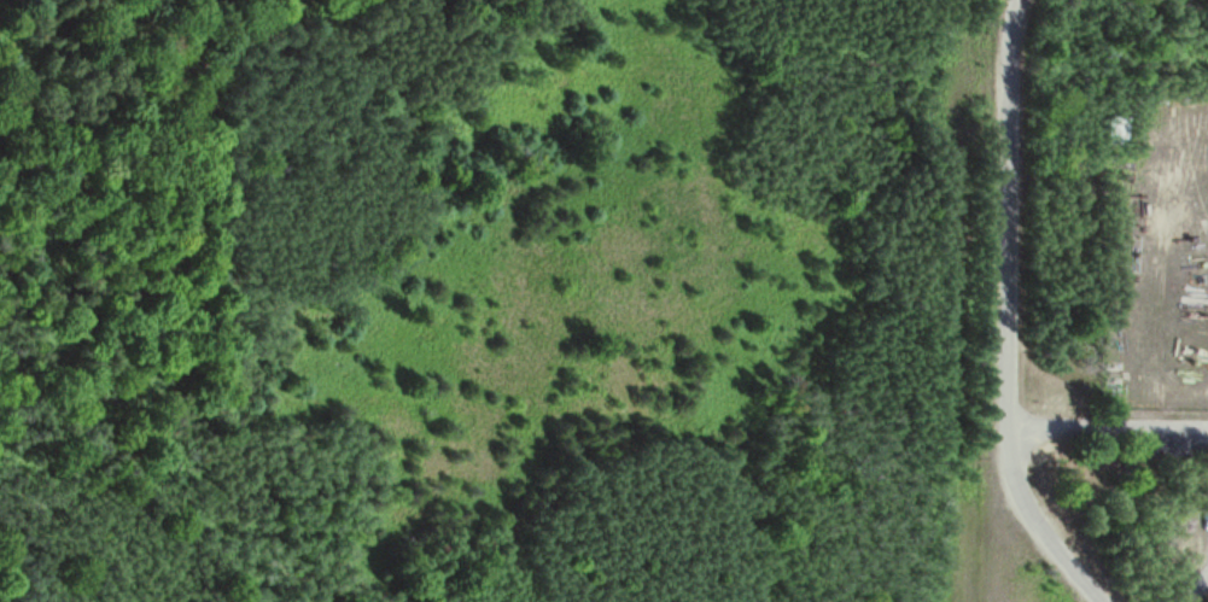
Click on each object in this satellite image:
building: (1110, 131)
road: (1010, 314)

